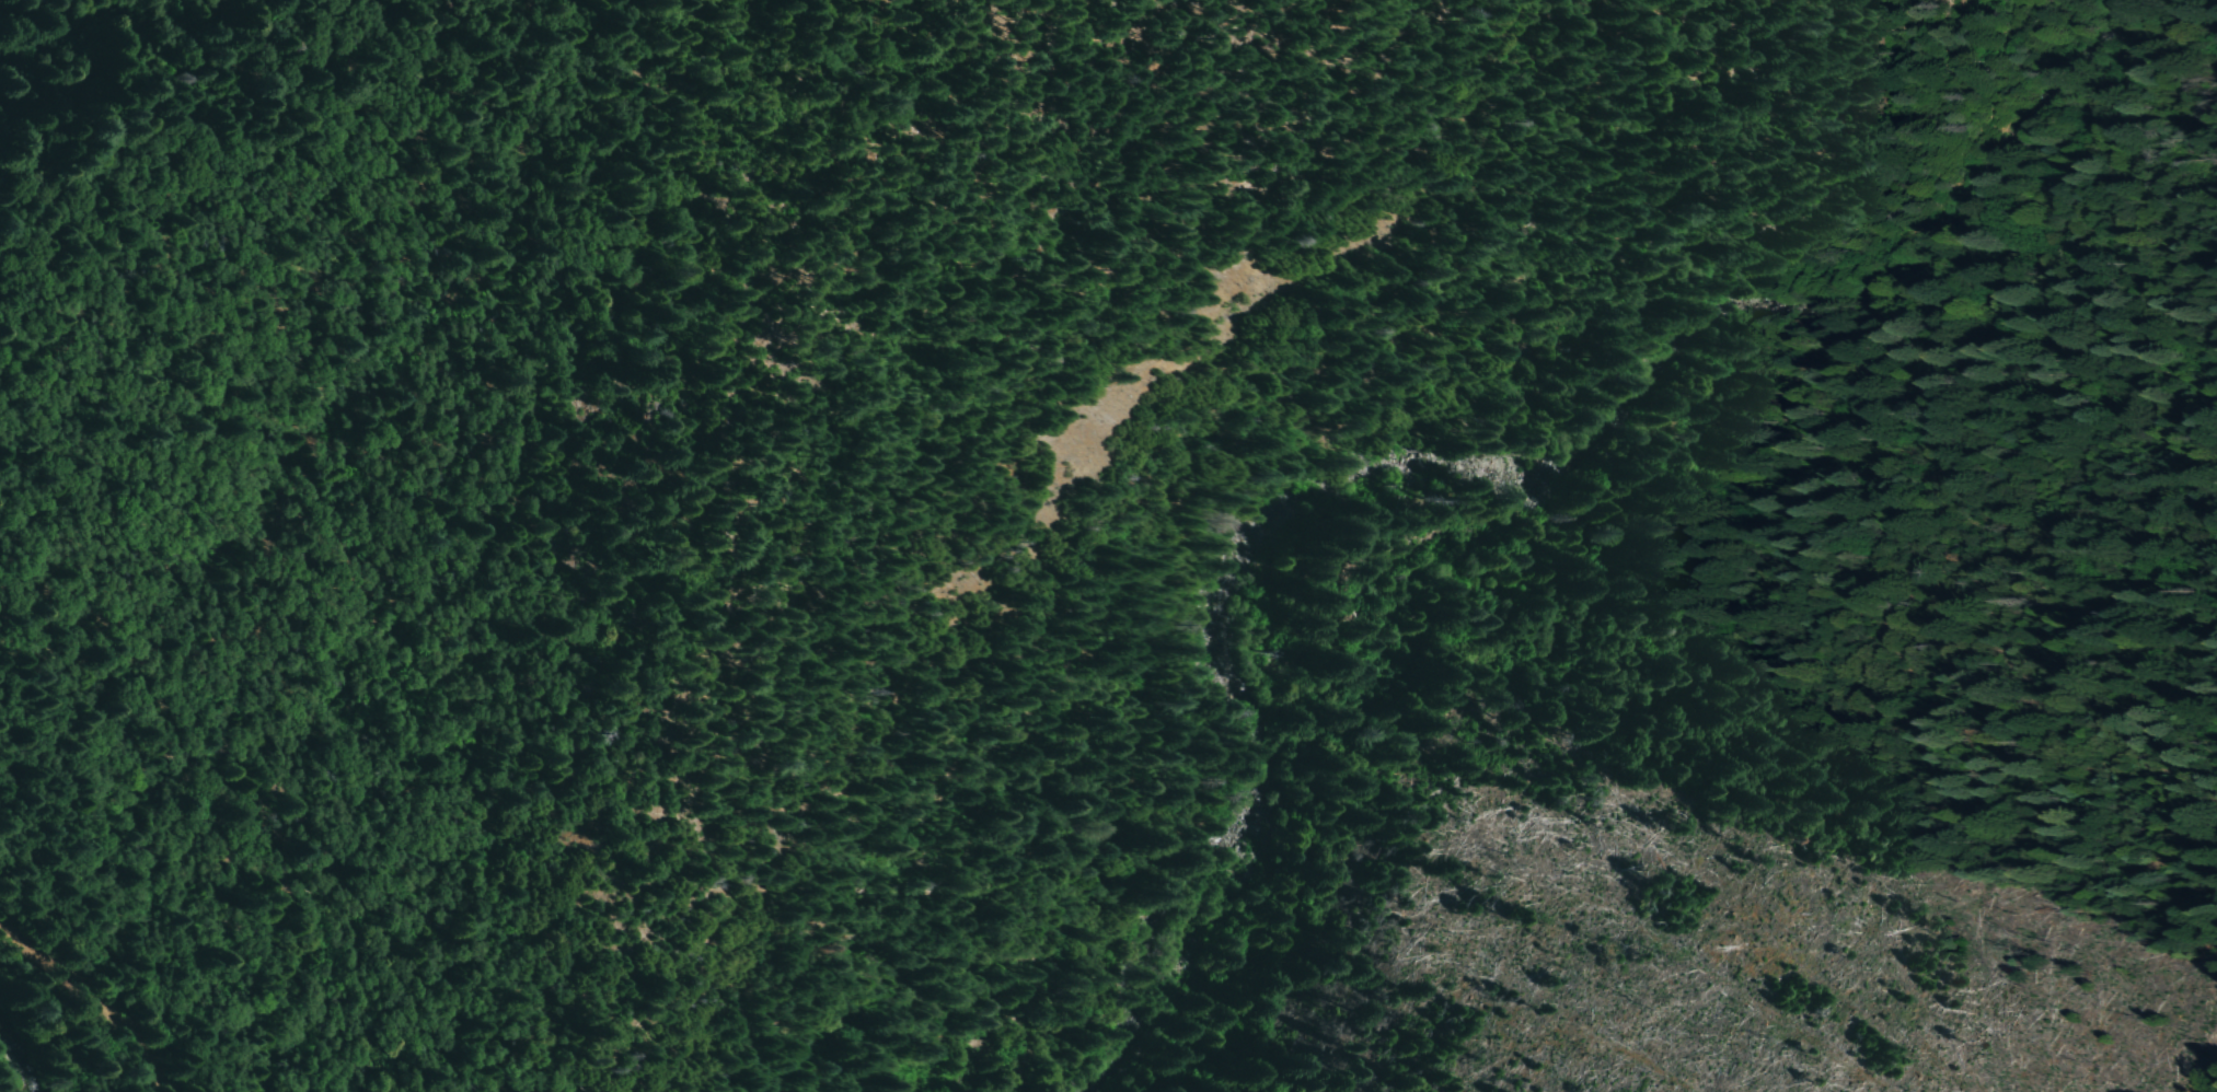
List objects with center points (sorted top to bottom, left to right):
road: (68, 1000)
river: (2, 1089)

